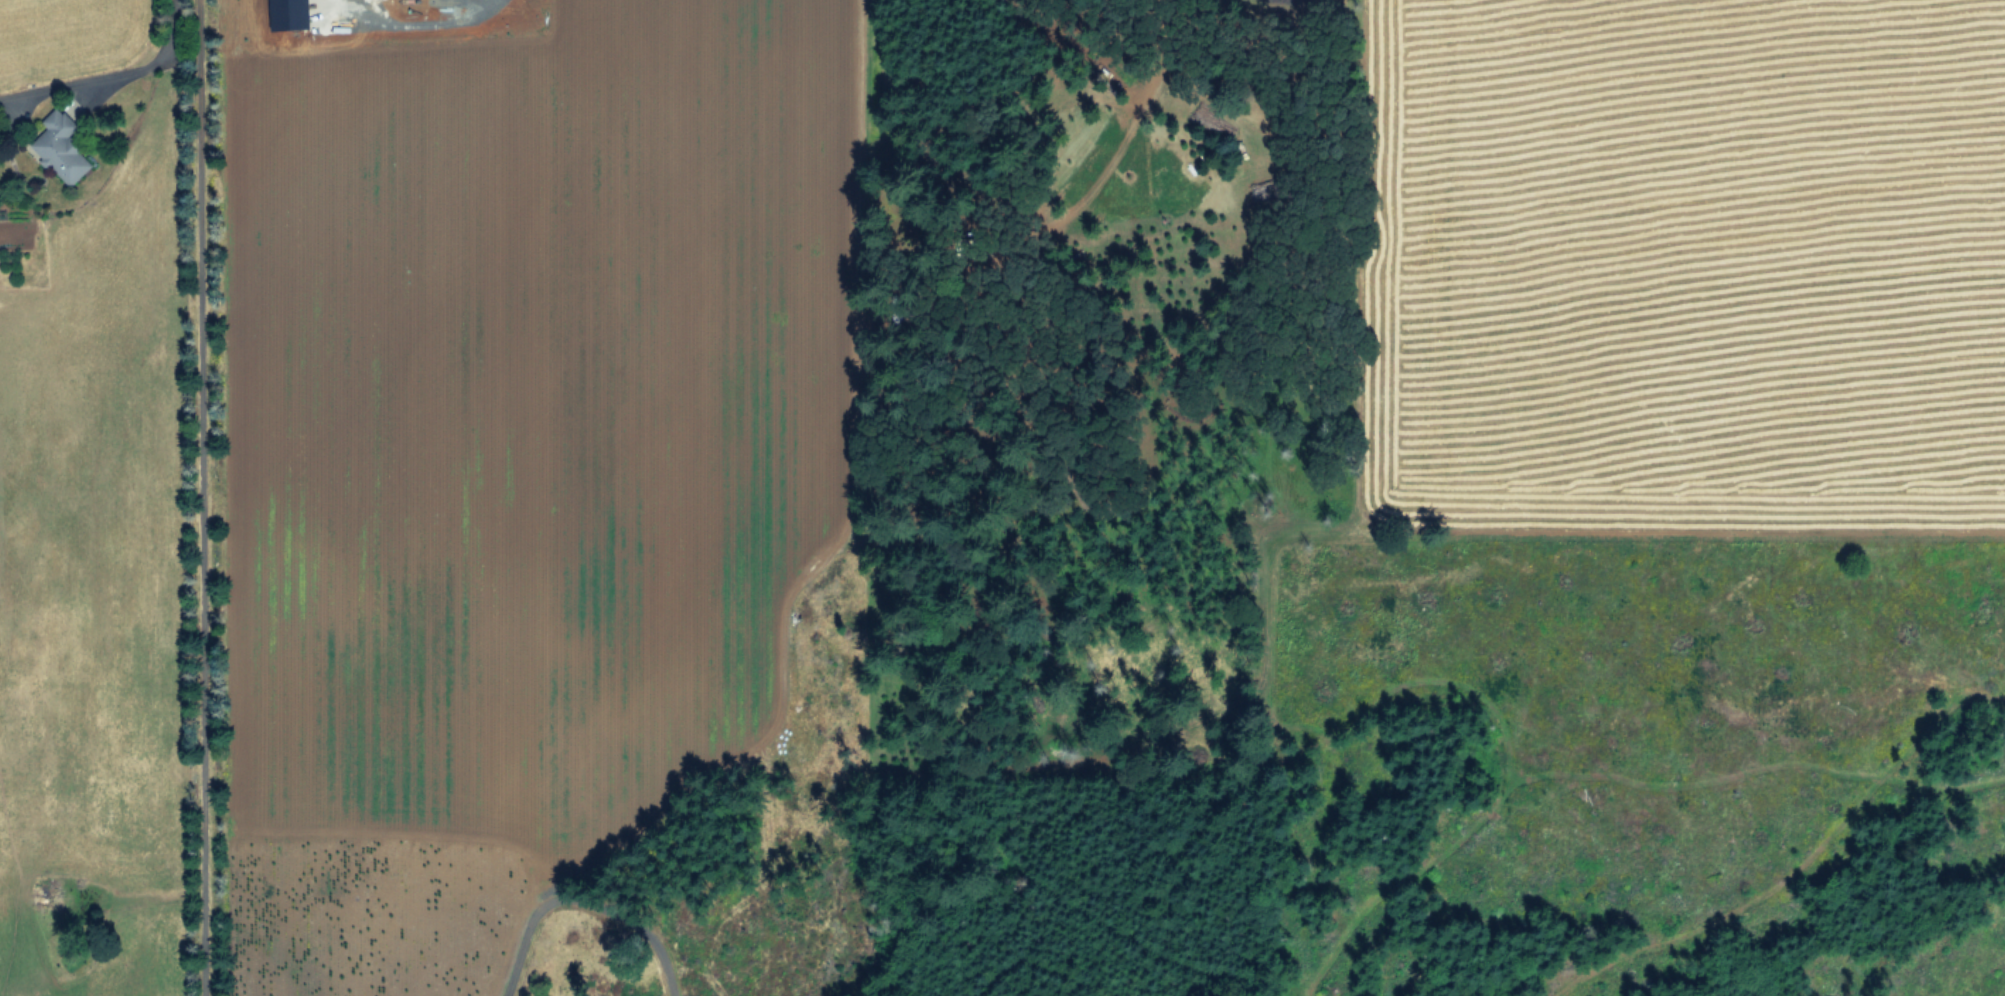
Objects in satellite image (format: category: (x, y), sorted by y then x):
road: (429, 22)
road: (110, 67)
building: (62, 146)
crop: (1691, 275)
road: (198, 497)
road: (584, 903)

